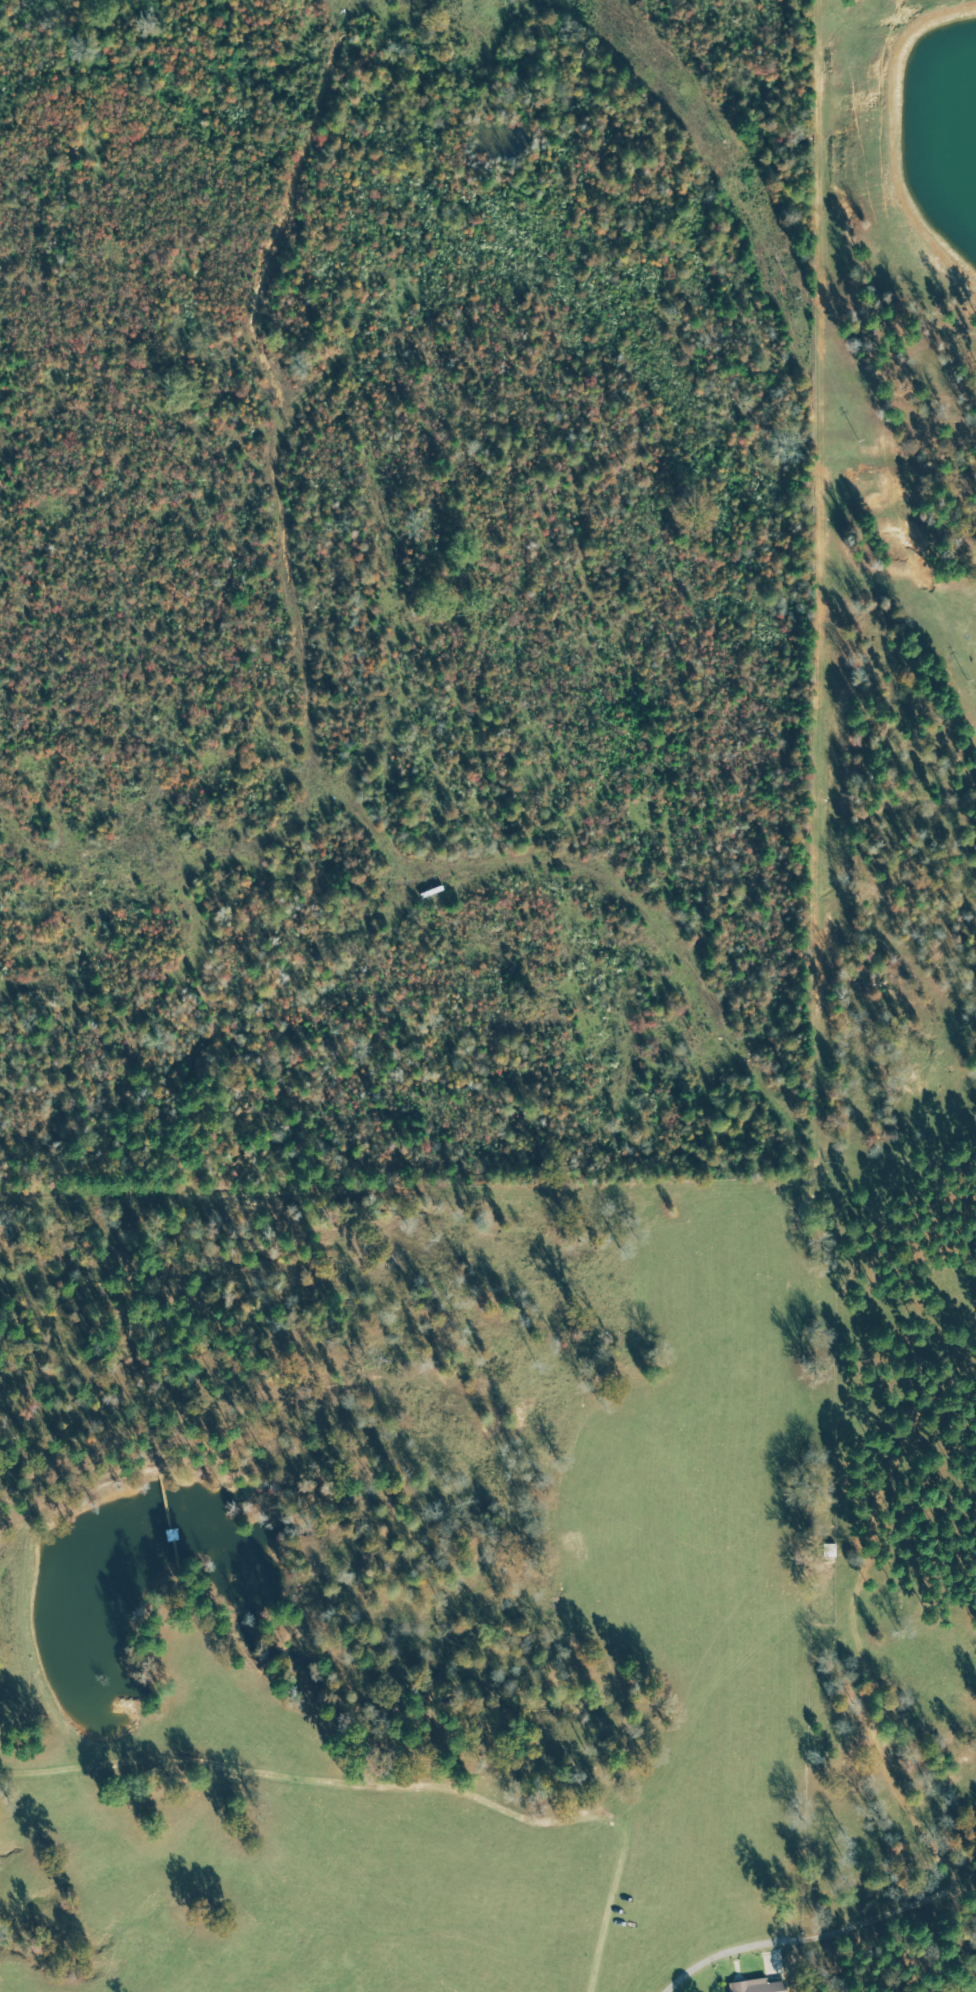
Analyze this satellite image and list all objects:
road: (228, 1760)
road: (625, 1824)
road: (707, 1959)
building: (757, 1986)

